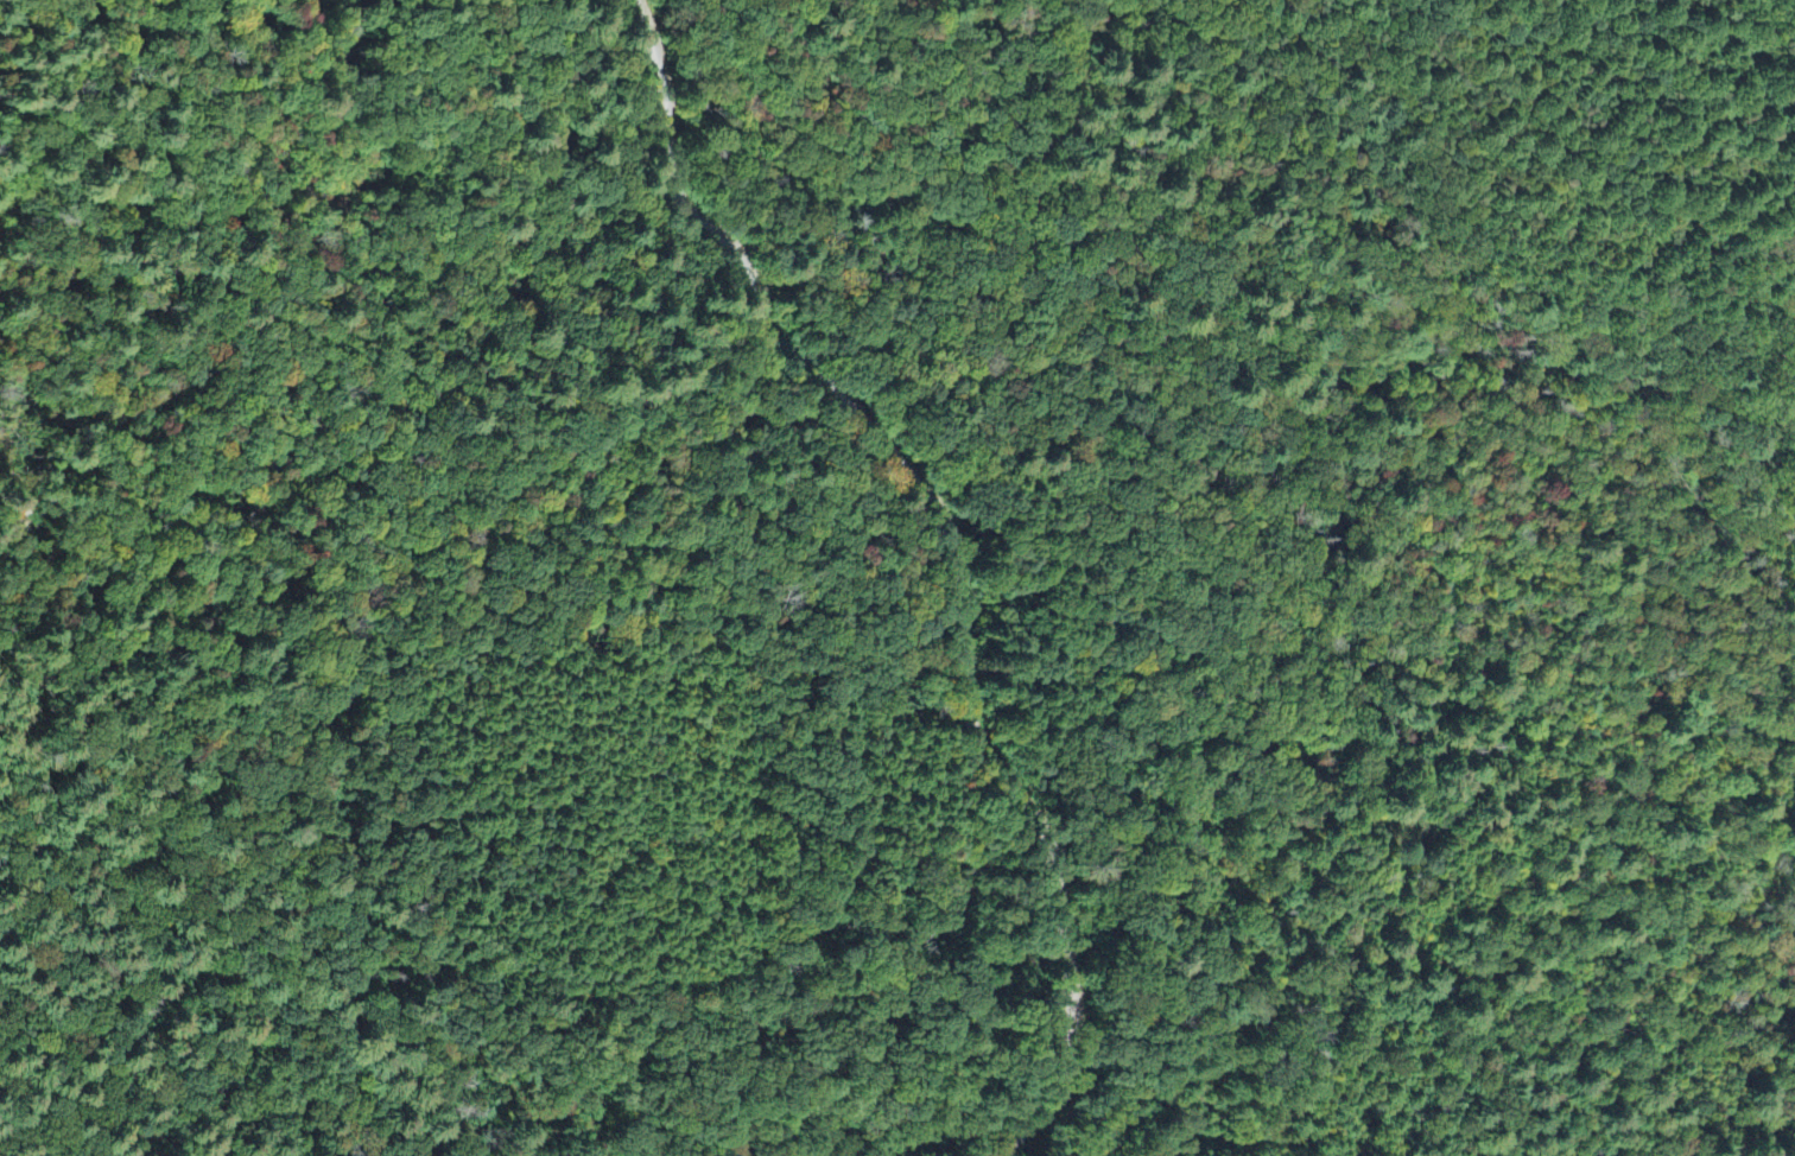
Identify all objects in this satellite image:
road: (831, 394)
road: (1156, 548)
road: (1072, 978)

